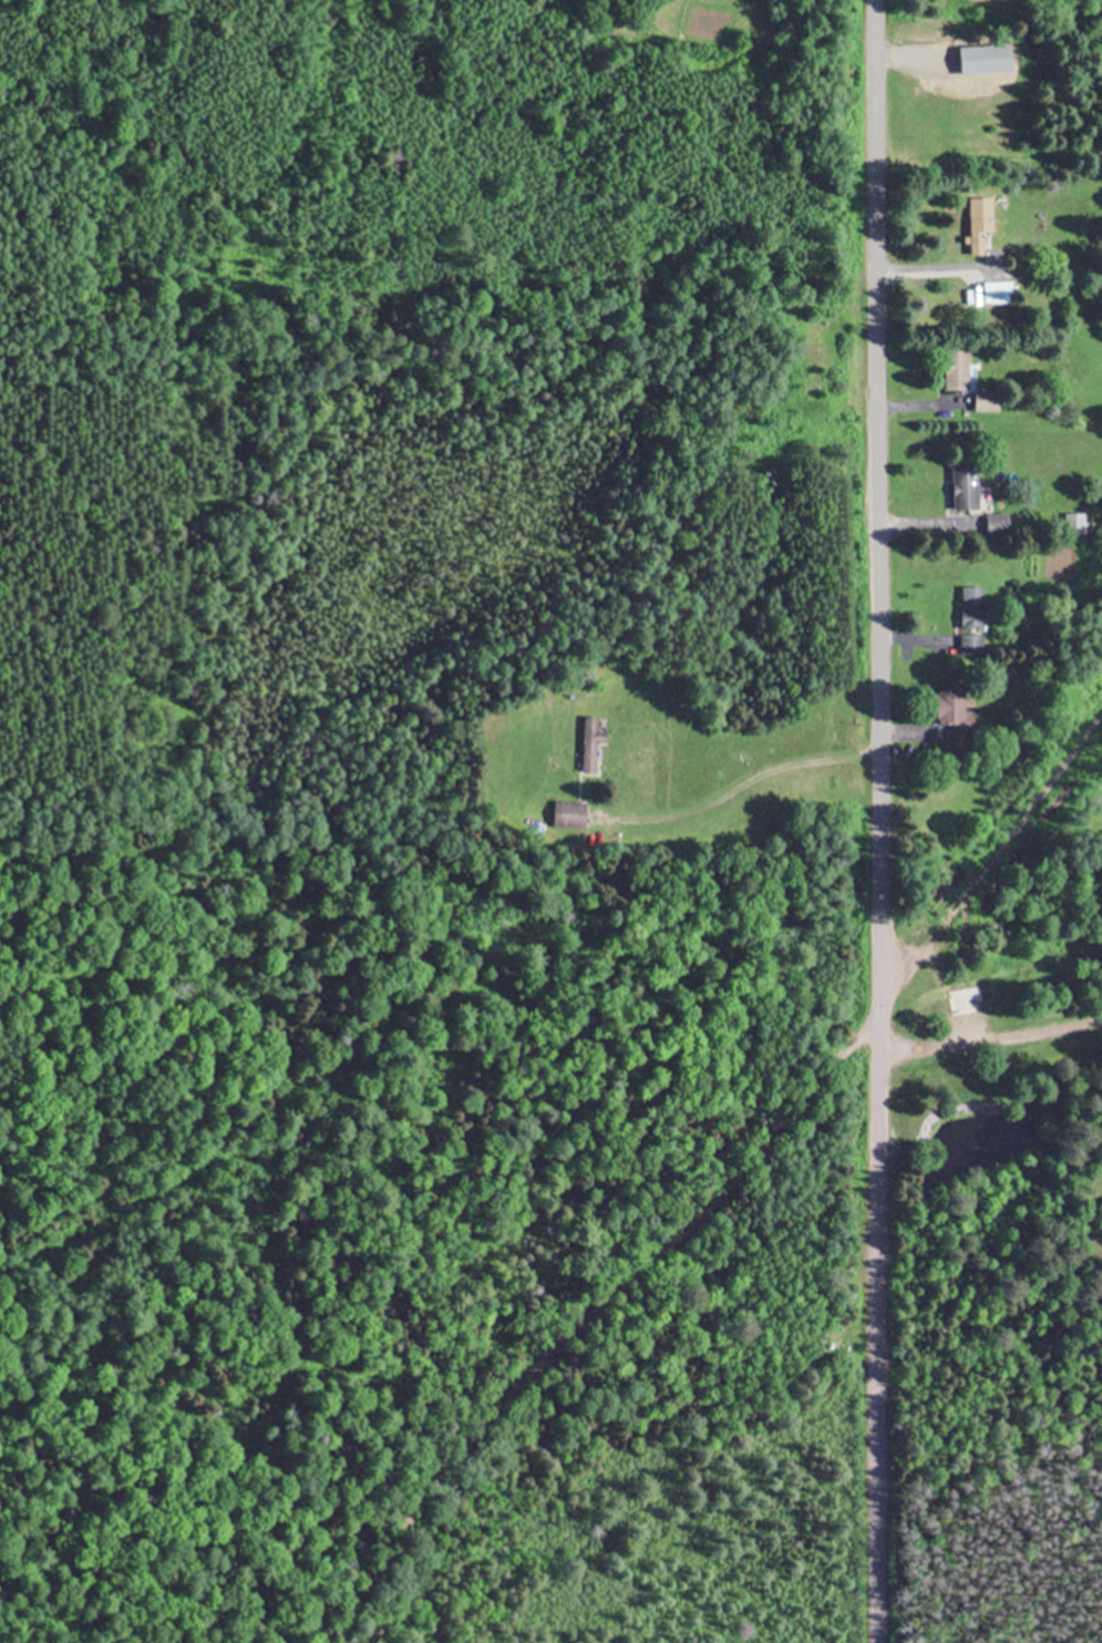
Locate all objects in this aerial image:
building: (983, 224)
building: (999, 291)
building: (959, 368)
building: (989, 400)
building: (967, 486)
road: (875, 502)
building: (1079, 524)
building: (972, 608)
building: (970, 646)
building: (954, 705)
building: (595, 743)
building: (571, 814)
building: (969, 999)
road: (720, 1175)
road: (872, 1324)

